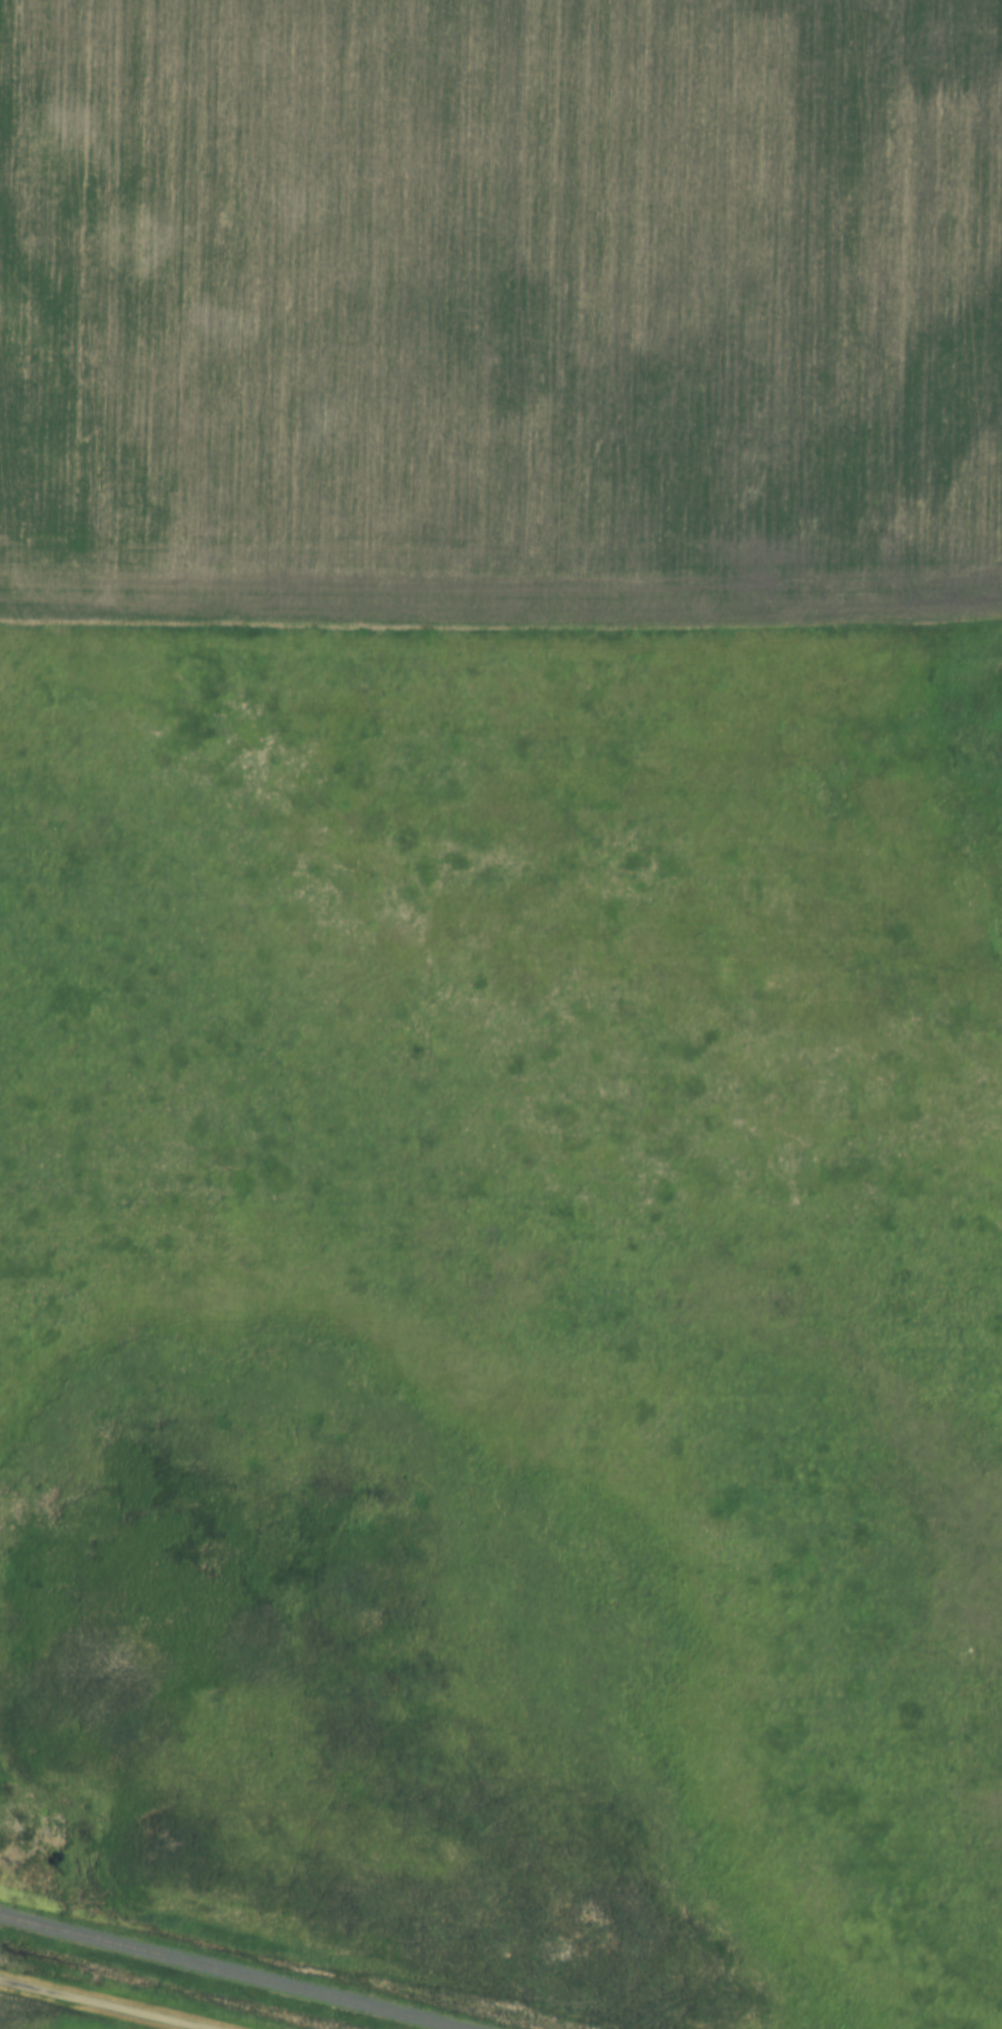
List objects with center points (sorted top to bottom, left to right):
railway: (228, 1972)
road: (100, 2004)

